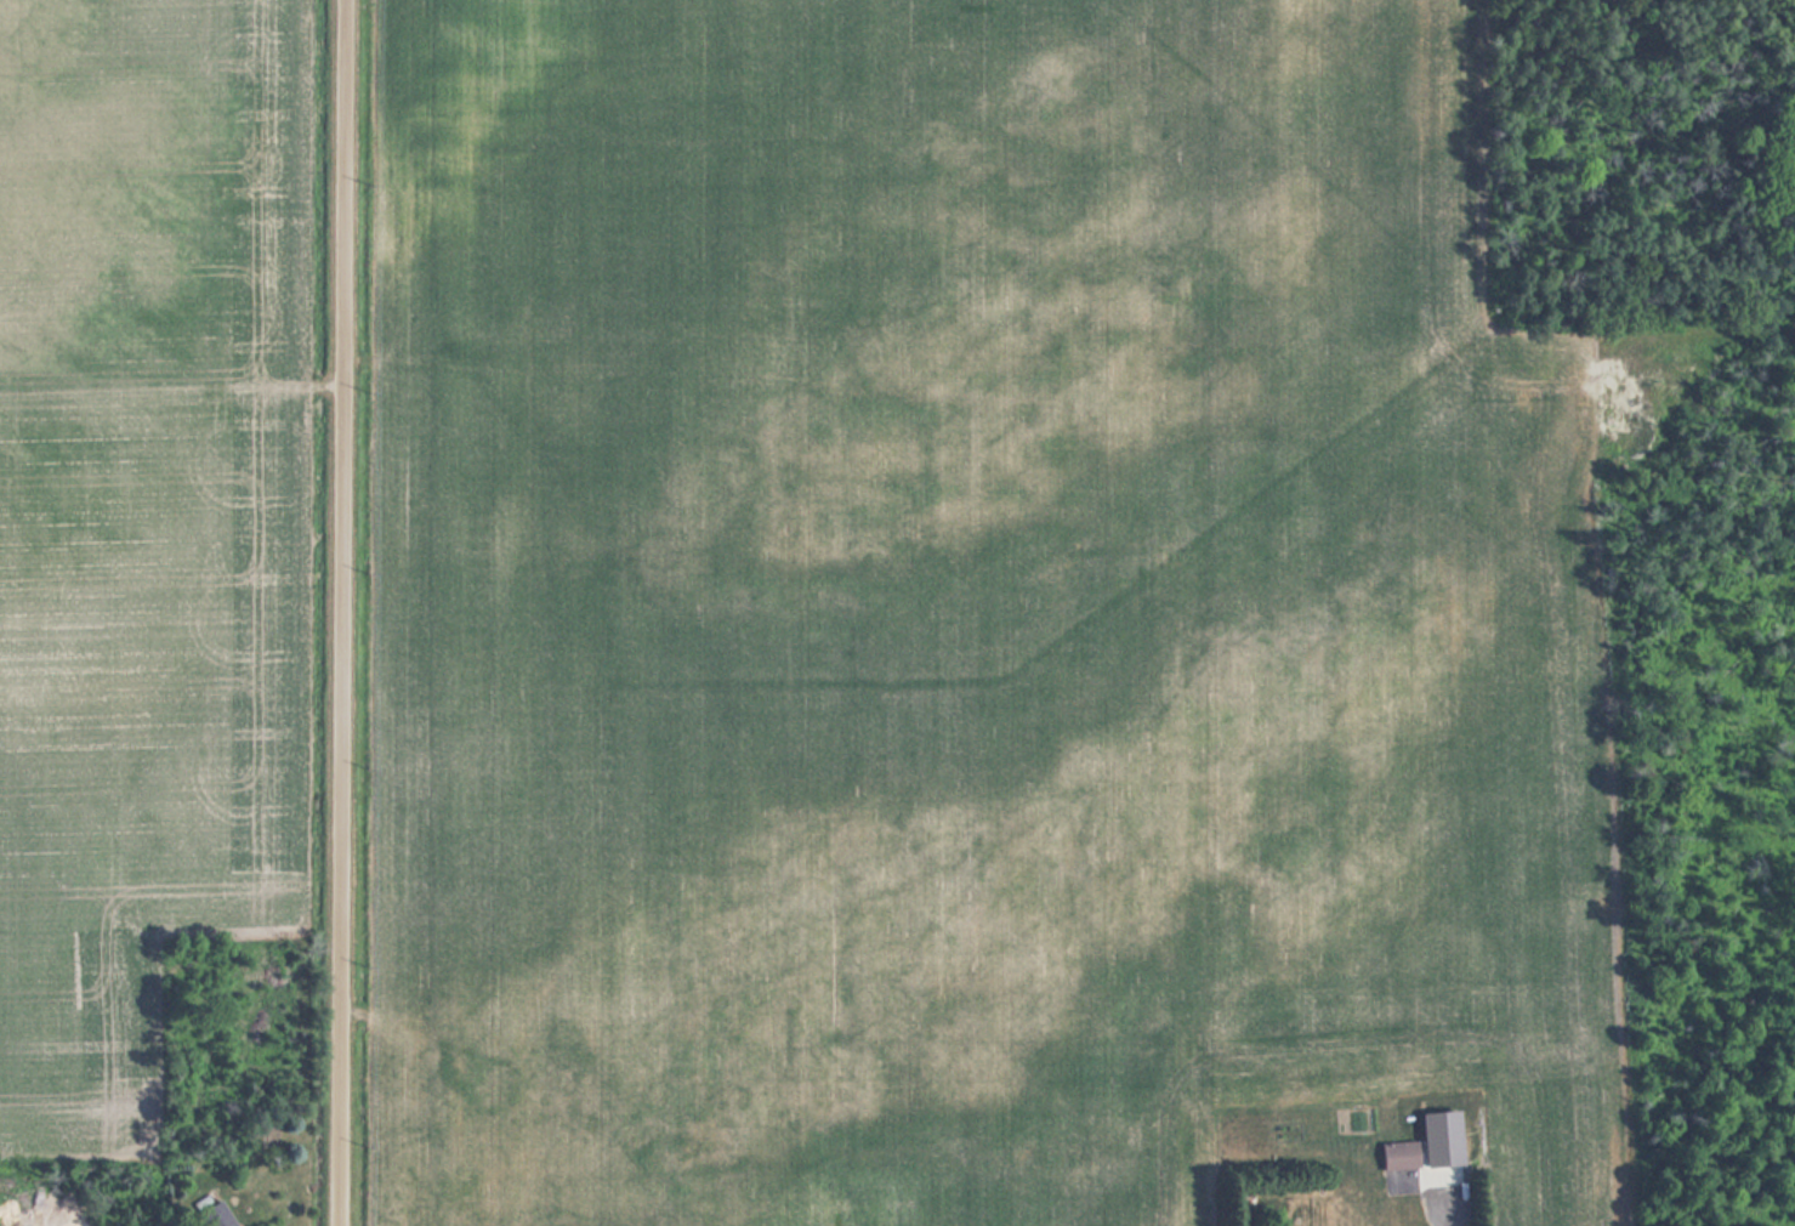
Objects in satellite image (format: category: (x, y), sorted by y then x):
road: (339, 613)
building: (1396, 1154)
building: (1245, 1204)
building: (209, 1214)

